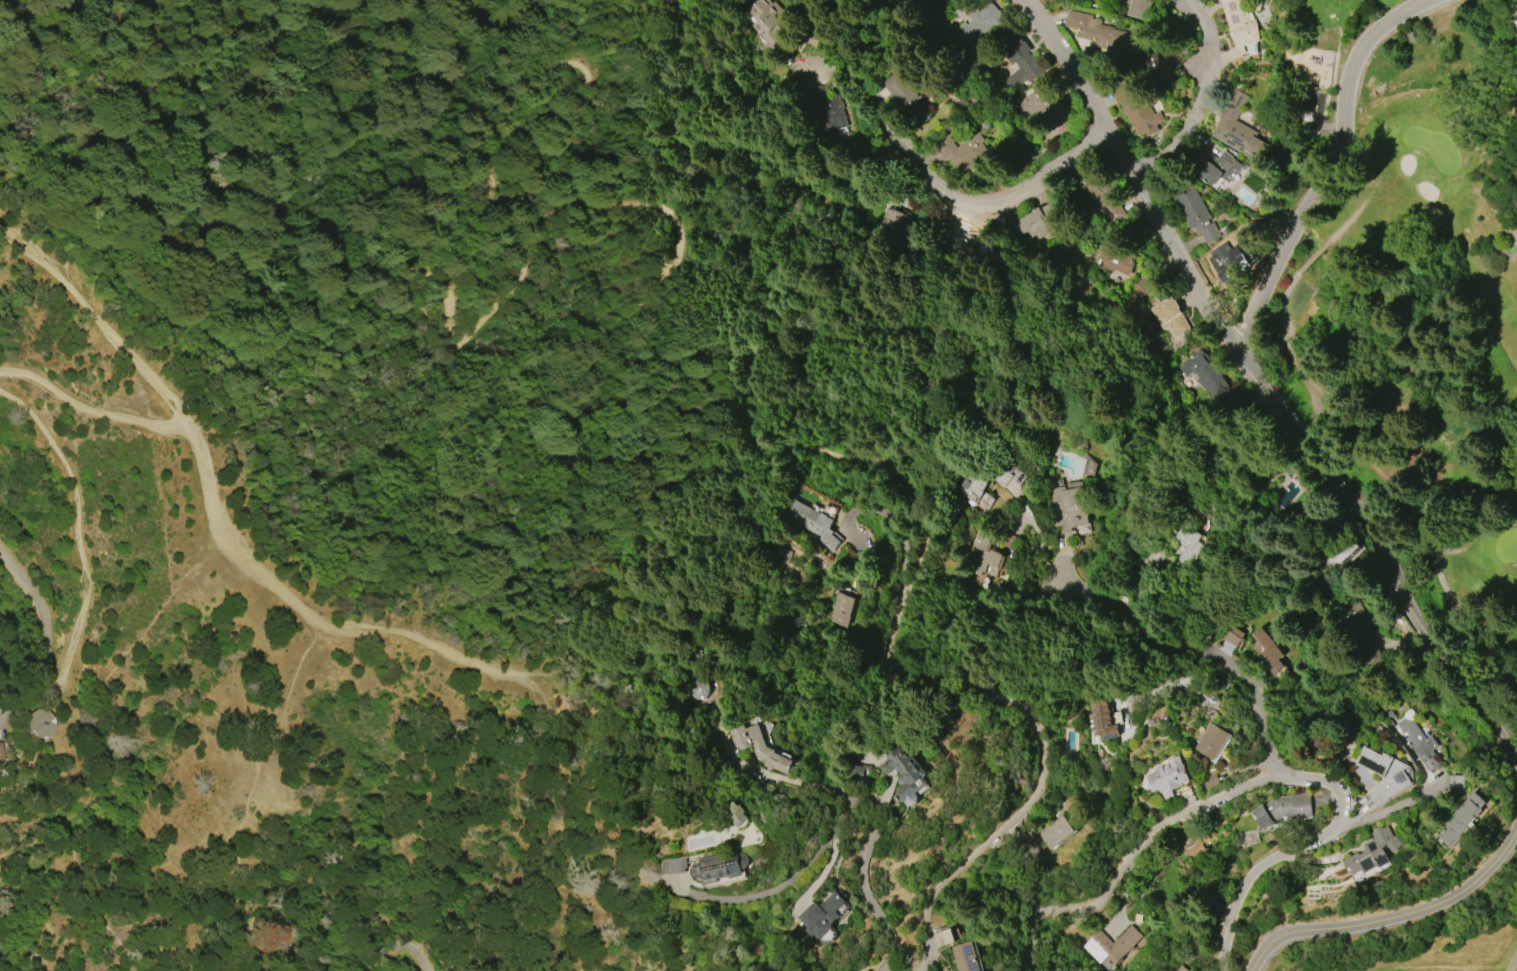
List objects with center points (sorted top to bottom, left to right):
building: (1140, 7)
building: (767, 21)
building: (1241, 22)
building: (974, 28)
building: (1096, 31)
road: (406, 45)
building: (1020, 55)
building: (1160, 62)
building: (1516, 79)
road: (491, 81)
road: (1205, 99)
building: (1041, 100)
building: (911, 101)
building: (824, 110)
building: (1141, 113)
building: (1238, 128)
road: (719, 130)
park: (1435, 149)
road: (48, 151)
building: (965, 152)
road: (1332, 163)
building: (1216, 166)
road: (214, 182)
road: (939, 190)
building: (1102, 197)
road: (1494, 210)
building: (1196, 214)
building: (889, 219)
building: (1041, 219)
building: (1116, 258)
building: (1229, 263)
building: (1170, 317)
park: (1417, 362)
building: (1205, 375)
road: (1267, 382)
road: (92, 409)
road: (1379, 472)
building: (1004, 475)
building: (971, 487)
building: (1067, 508)
road: (886, 519)
building: (812, 522)
road: (1035, 533)
park: (1504, 541)
road: (83, 545)
building: (1189, 546)
building: (778, 553)
building: (1345, 553)
building: (984, 554)
road: (283, 588)
building: (840, 609)
road: (29, 621)
building: (1362, 634)
building: (1235, 637)
road: (1007, 640)
building: (1267, 651)
road: (1198, 653)
building: (695, 688)
building: (1100, 719)
building: (33, 723)
building: (1212, 741)
building: (1418, 741)
building: (759, 748)
road: (1042, 753)
building: (857, 772)
building: (1384, 773)
building: (906, 775)
building: (1168, 777)
road: (775, 780)
building: (1455, 783)
building: (1284, 809)
road: (1383, 811)
building: (735, 813)
building: (1462, 817)
road: (831, 832)
building: (1056, 832)
building: (1195, 843)
building: (1373, 847)
road: (1295, 849)
road: (1128, 858)
building: (671, 865)
building: (720, 868)
building: (824, 916)
road: (1395, 918)
building: (943, 936)
building: (1114, 944)
park: (1435, 947)
road: (24, 950)
road: (401, 950)
building: (964, 957)
road: (1512, 962)
building: (1179, 968)

